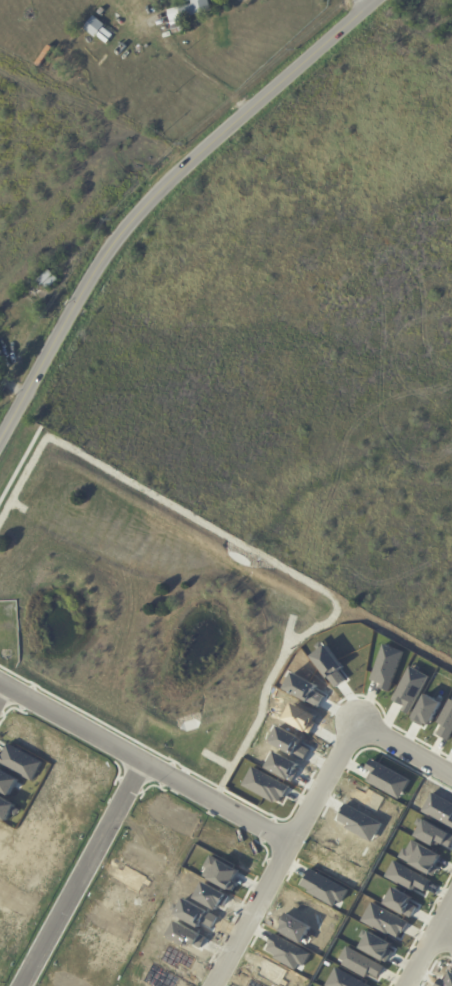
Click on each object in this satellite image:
road: (365, 1)
building: (190, 9)
building: (95, 27)
building: (178, 29)
building: (107, 34)
building: (103, 39)
building: (56, 68)
road: (154, 194)
building: (48, 281)
building: (1, 352)
building: (14, 352)
building: (1, 375)
road: (19, 466)
building: (329, 665)
building: (387, 666)
road: (2, 688)
building: (304, 689)
building: (410, 689)
road: (31, 691)
building: (426, 710)
building: (300, 717)
building: (446, 721)
building: (289, 743)
road: (405, 749)
road: (145, 763)
building: (283, 766)
road: (170, 768)
building: (386, 779)
building: (266, 785)
road: (329, 803)
building: (439, 809)
road: (260, 810)
road: (272, 823)
building: (360, 823)
building: (433, 834)
road: (285, 854)
building: (420, 857)
building: (221, 873)
road: (83, 874)
building: (407, 877)
building: (324, 887)
building: (212, 896)
building: (401, 902)
road: (442, 905)
road: (451, 909)
building: (195, 913)
building: (384, 920)
building: (296, 928)
road: (421, 929)
building: (186, 936)
road: (444, 937)
road: (430, 945)
building: (377, 946)
building: (288, 952)
building: (177, 958)
building: (360, 963)
road: (433, 966)
building: (344, 979)
building: (446, 981)

